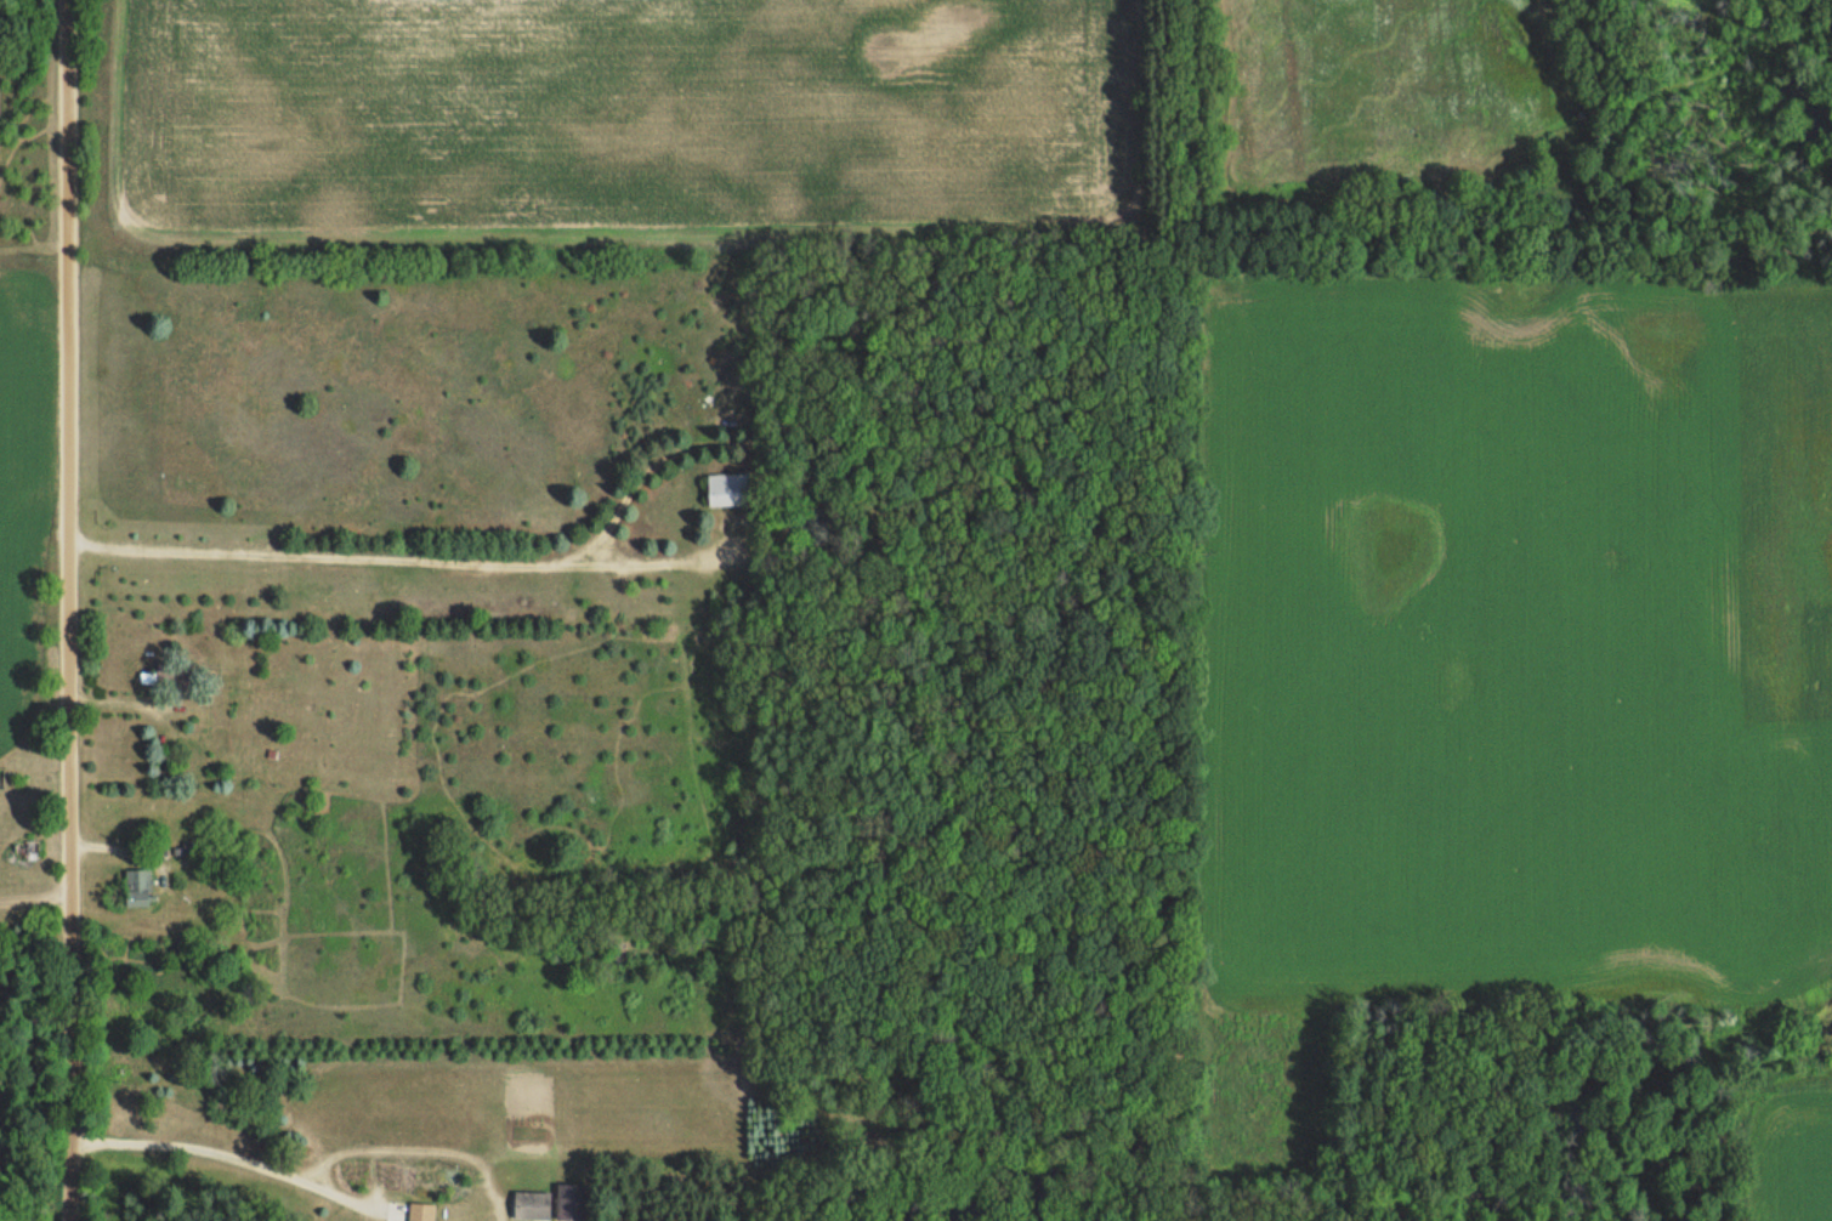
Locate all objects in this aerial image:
building: (727, 489)
road: (391, 558)
road: (64, 610)
building: (166, 675)
building: (136, 886)
road: (225, 1152)
building: (568, 1200)
building: (532, 1204)
building: (420, 1211)

